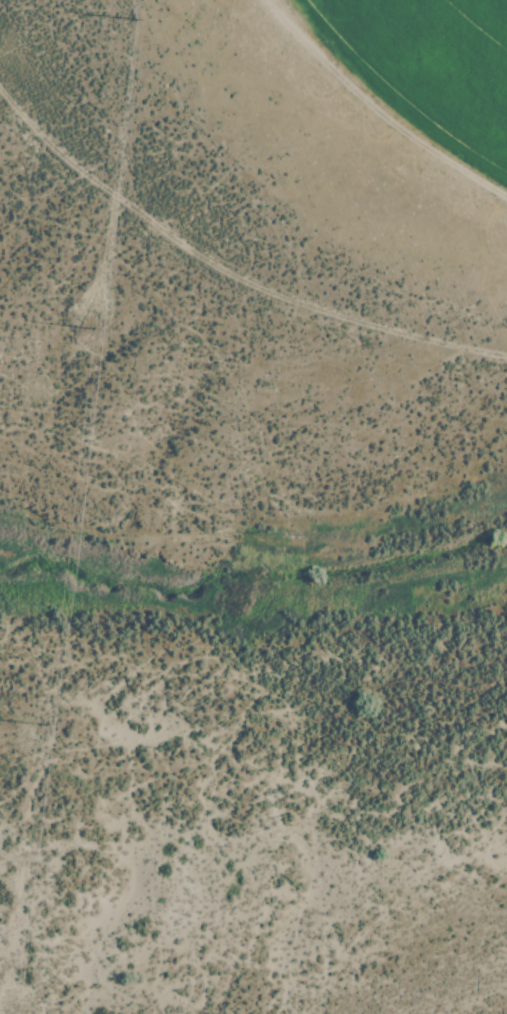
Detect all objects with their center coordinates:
crop: (408, 81)

